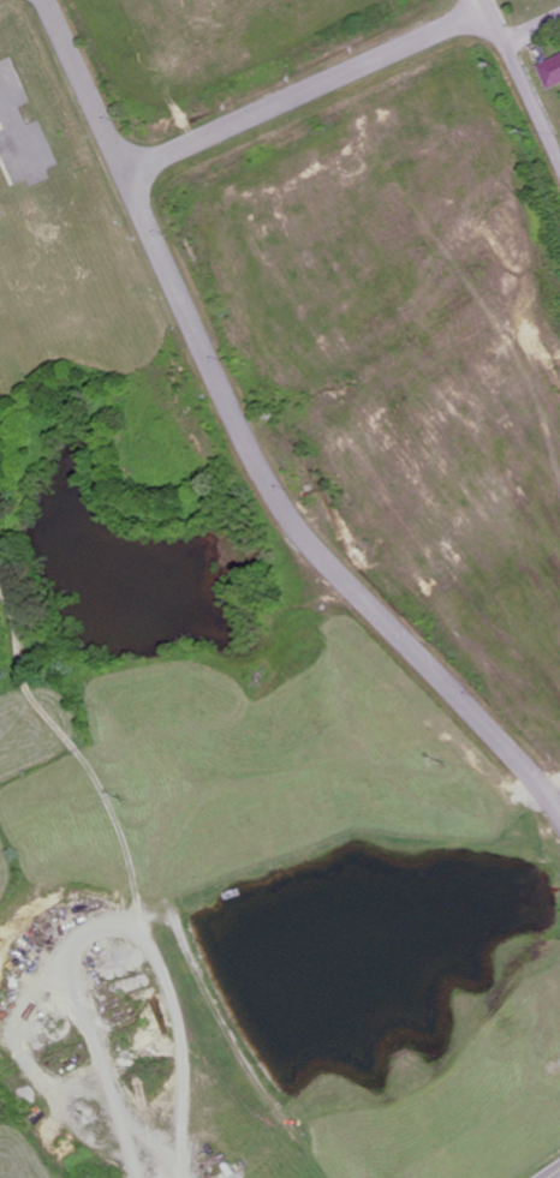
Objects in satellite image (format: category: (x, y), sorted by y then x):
road: (534, 32)
building: (552, 71)
road: (523, 78)
road: (304, 90)
road: (11, 131)
road: (260, 433)
road: (555, 1174)

